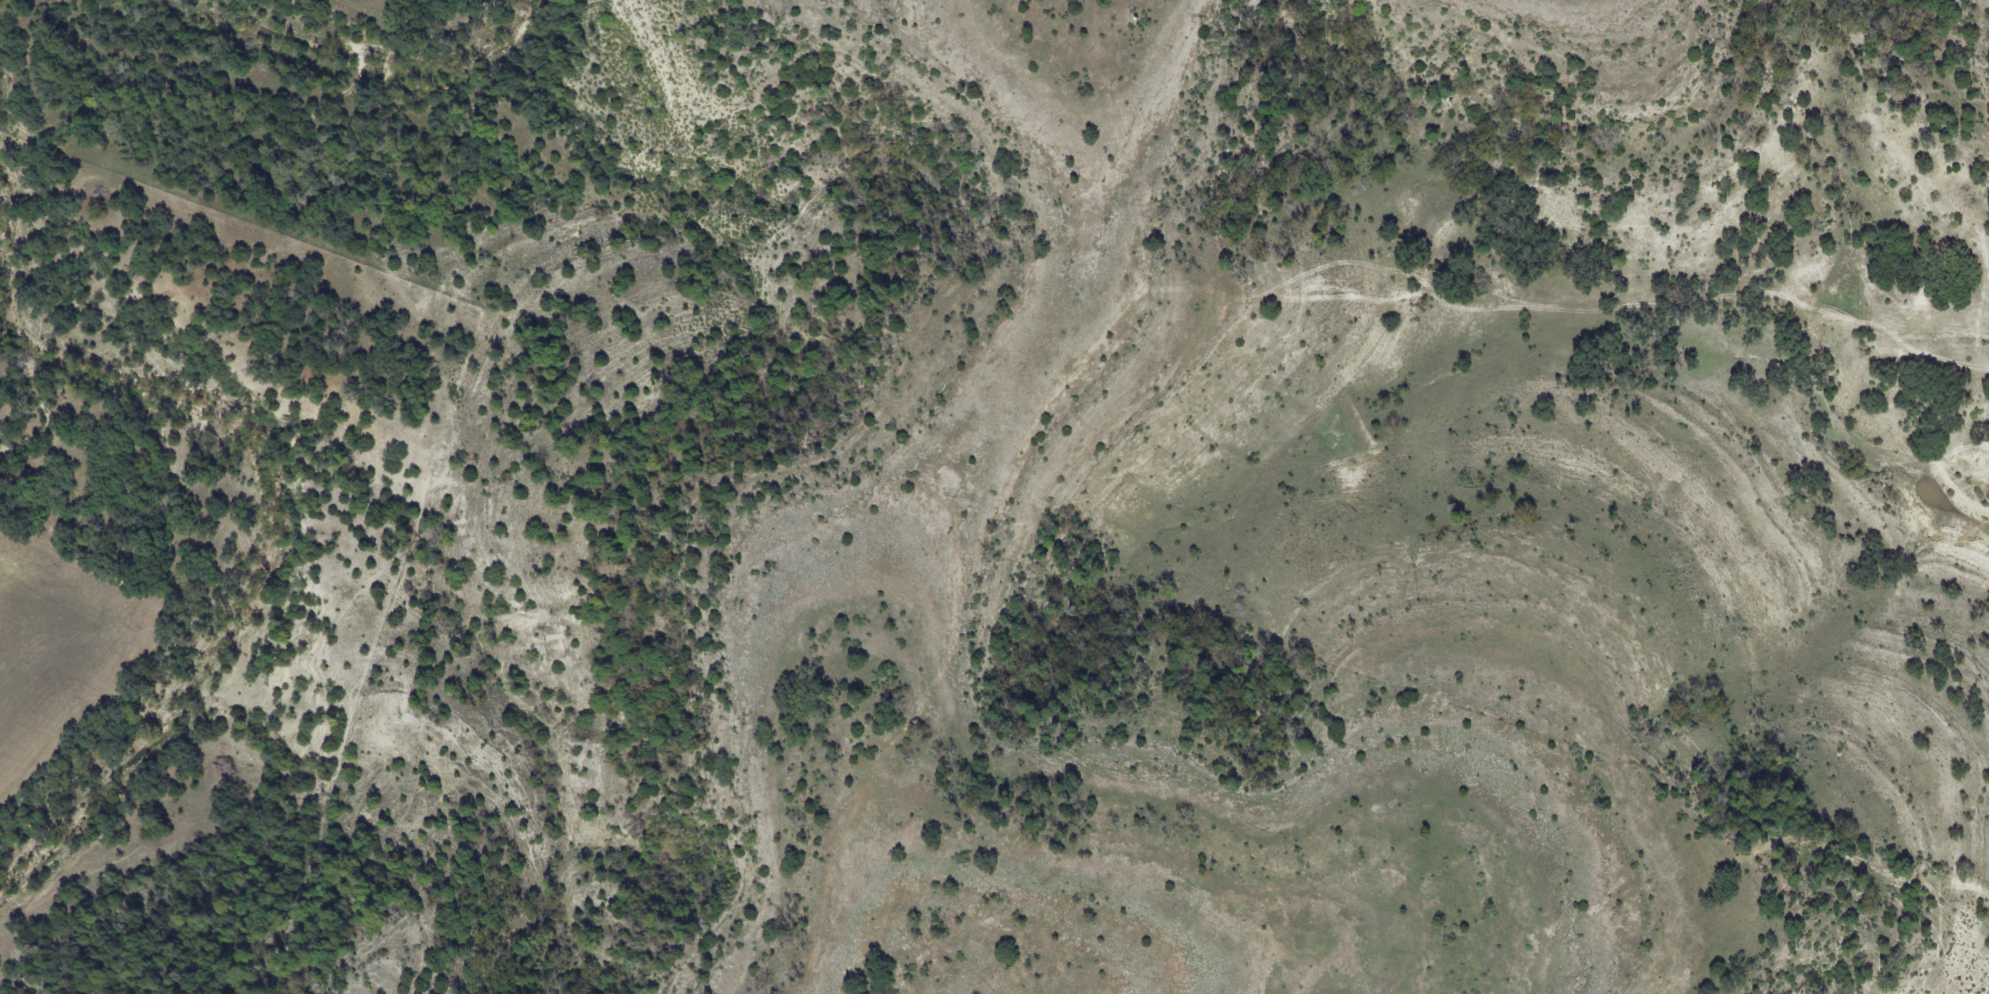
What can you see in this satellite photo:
road: (1937, 373)

